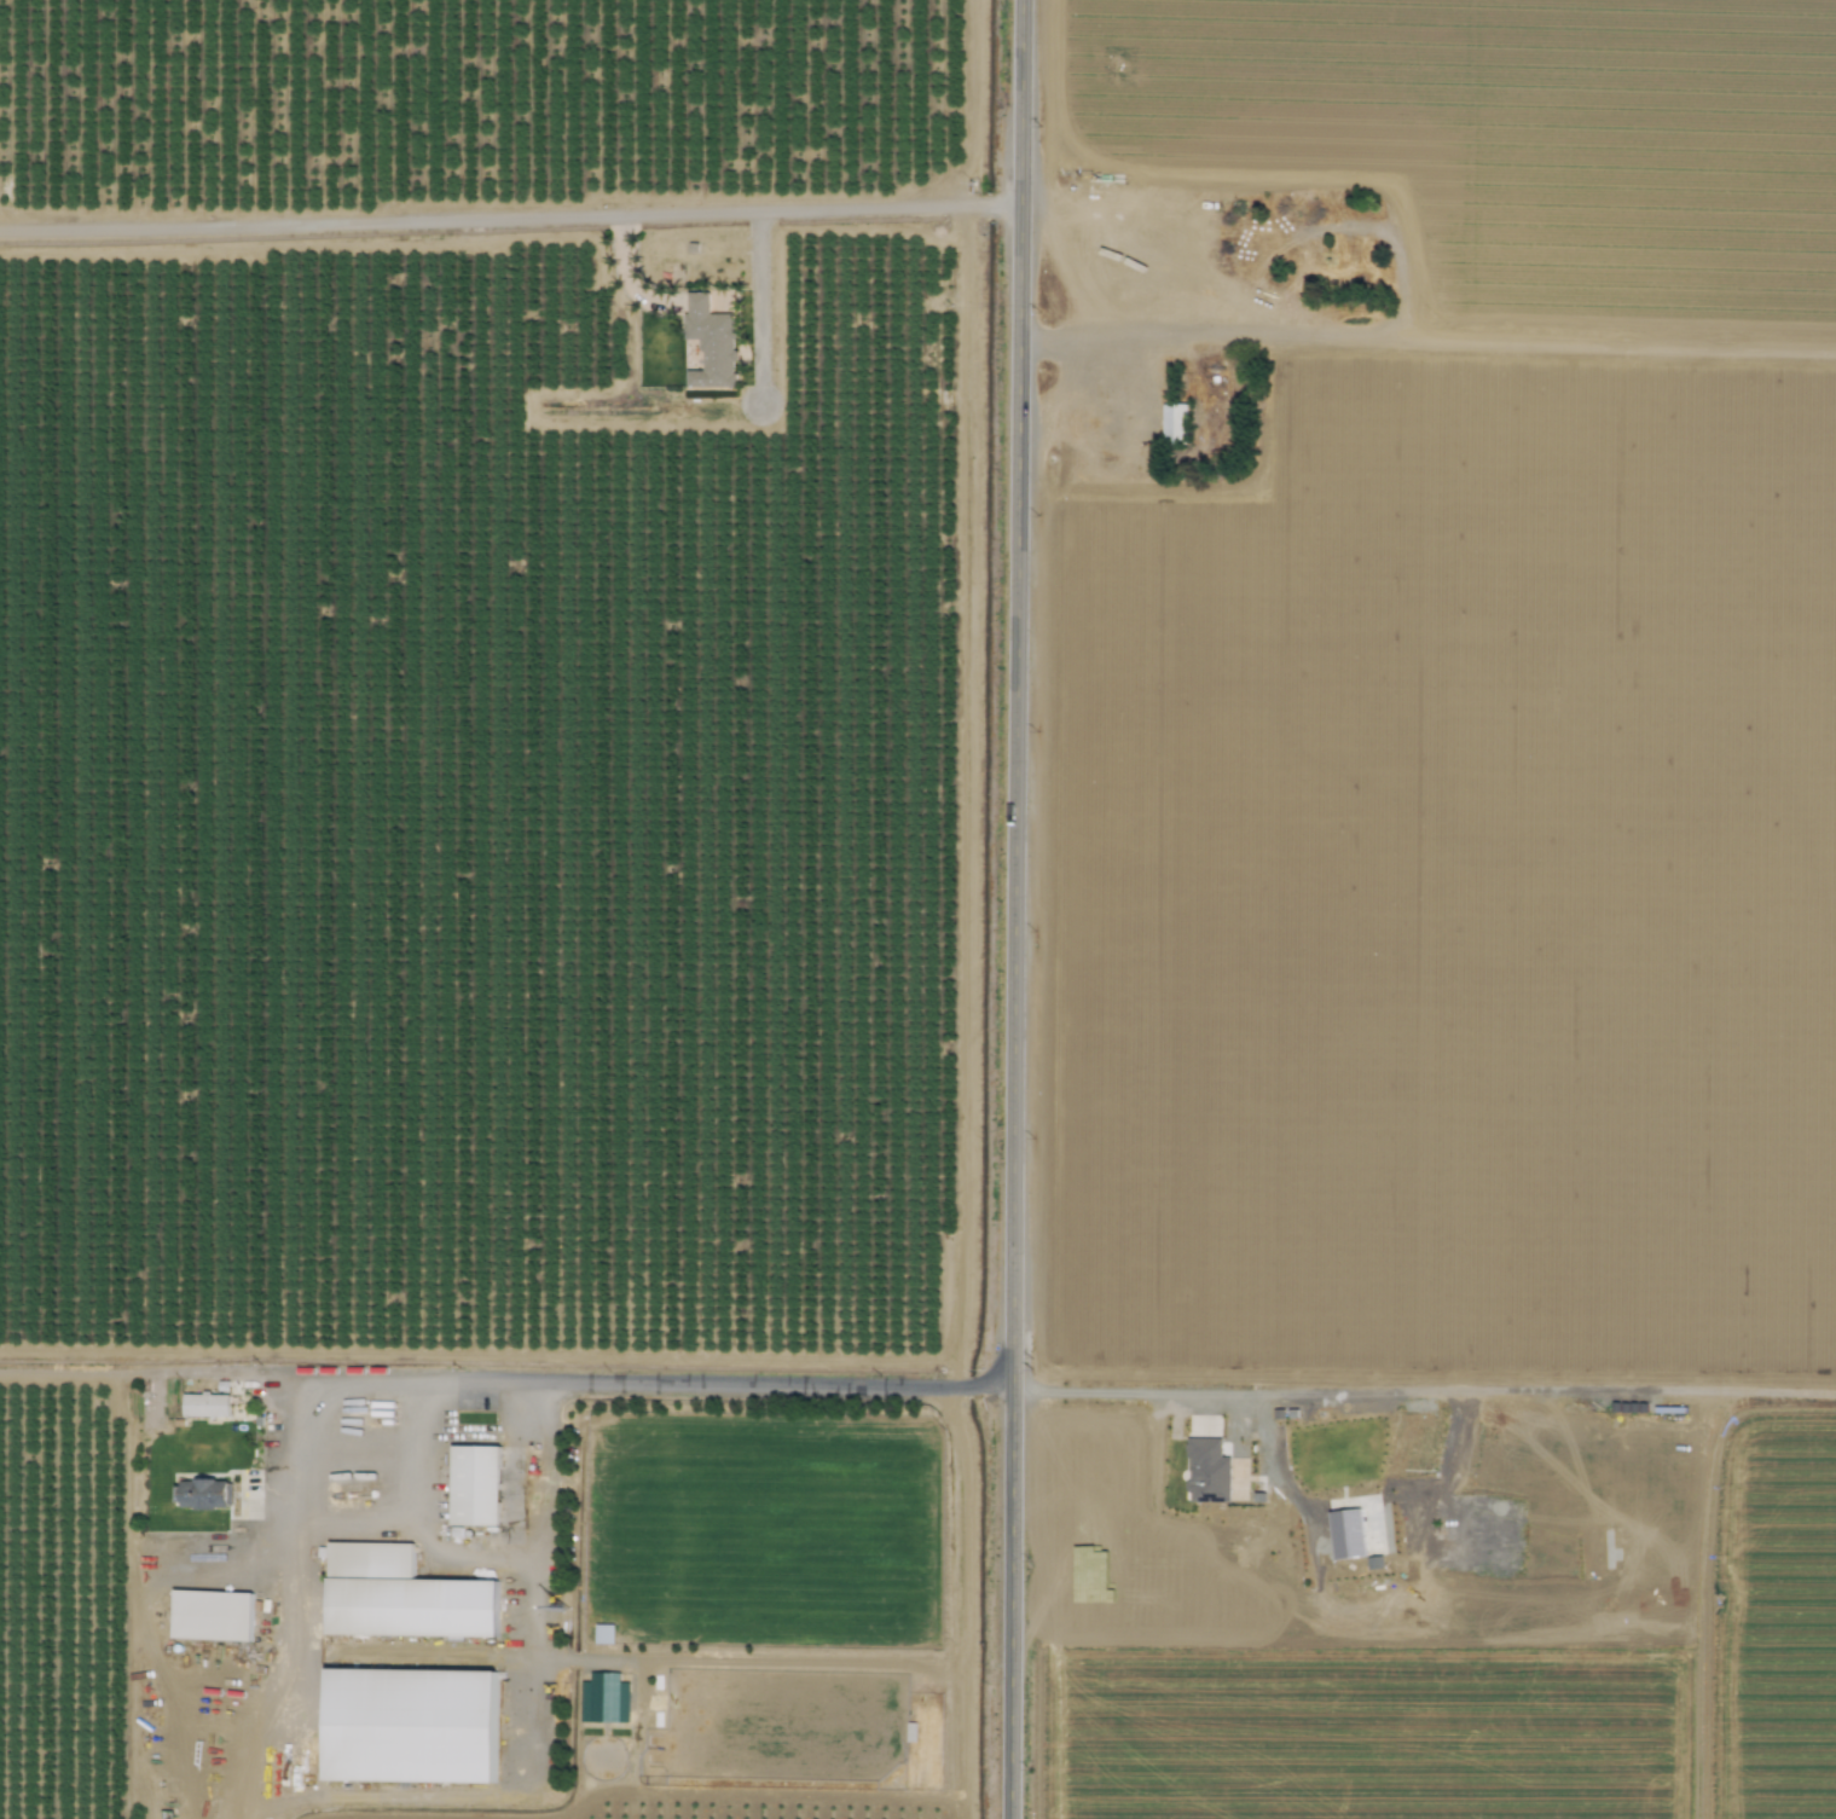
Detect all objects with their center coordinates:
road: (510, 218)
road: (625, 273)
road: (757, 307)
road: (1427, 340)
building: (708, 343)
building: (1172, 422)
road: (1014, 909)
road: (459, 1383)
road: (1423, 1390)
building: (204, 1404)
road: (416, 1461)
building: (1206, 1471)
building: (474, 1484)
building: (203, 1494)
road: (409, 1530)
building: (401, 1595)
building: (210, 1615)
building: (602, 1633)
building: (603, 1698)
building: (409, 1725)
road: (533, 1727)
road: (259, 1790)

